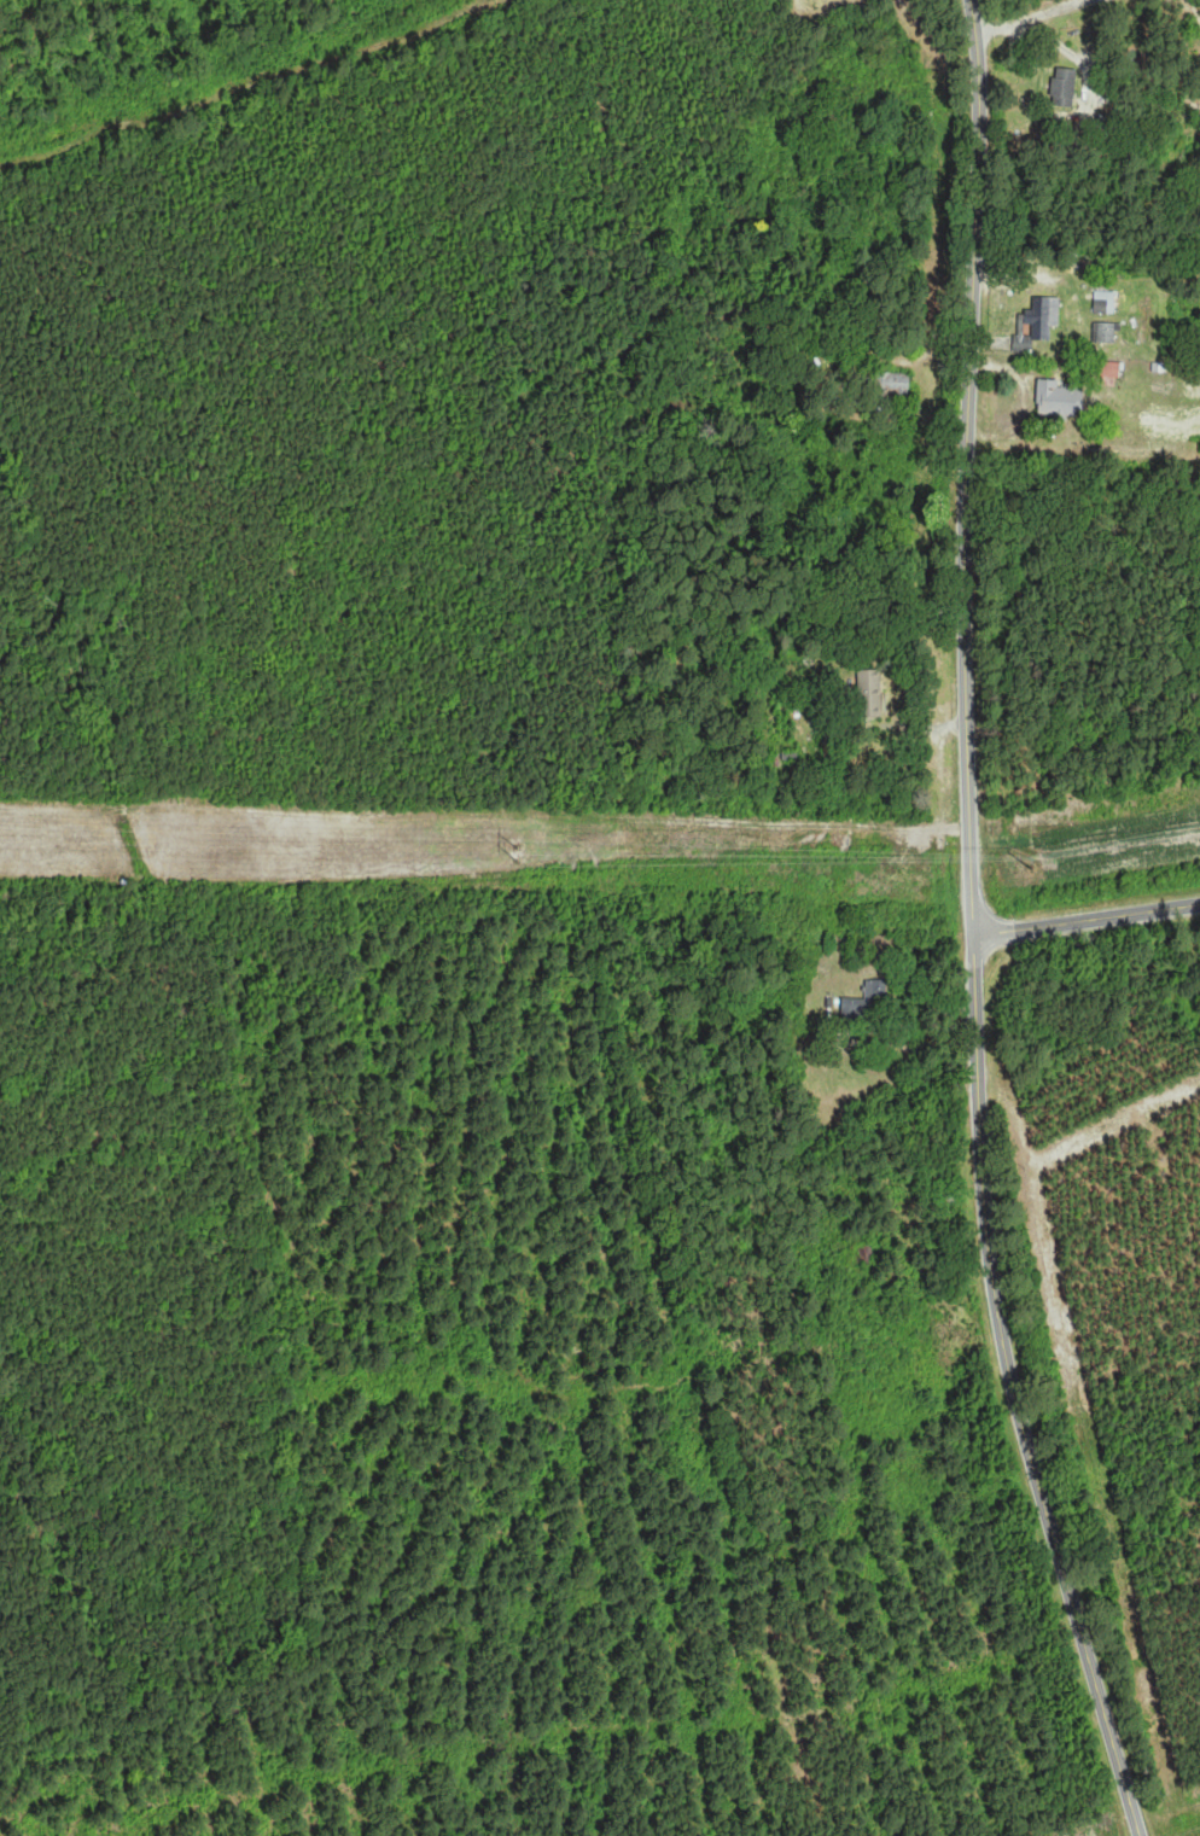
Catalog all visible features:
road: (1036, 18)
building: (1064, 87)
building: (1105, 303)
building: (1105, 332)
building: (1111, 369)
building: (895, 384)
building: (1061, 398)
building: (869, 693)
power tower: (990, 843)
power tower: (519, 853)
road: (1087, 920)
road: (973, 927)
building: (868, 1004)

